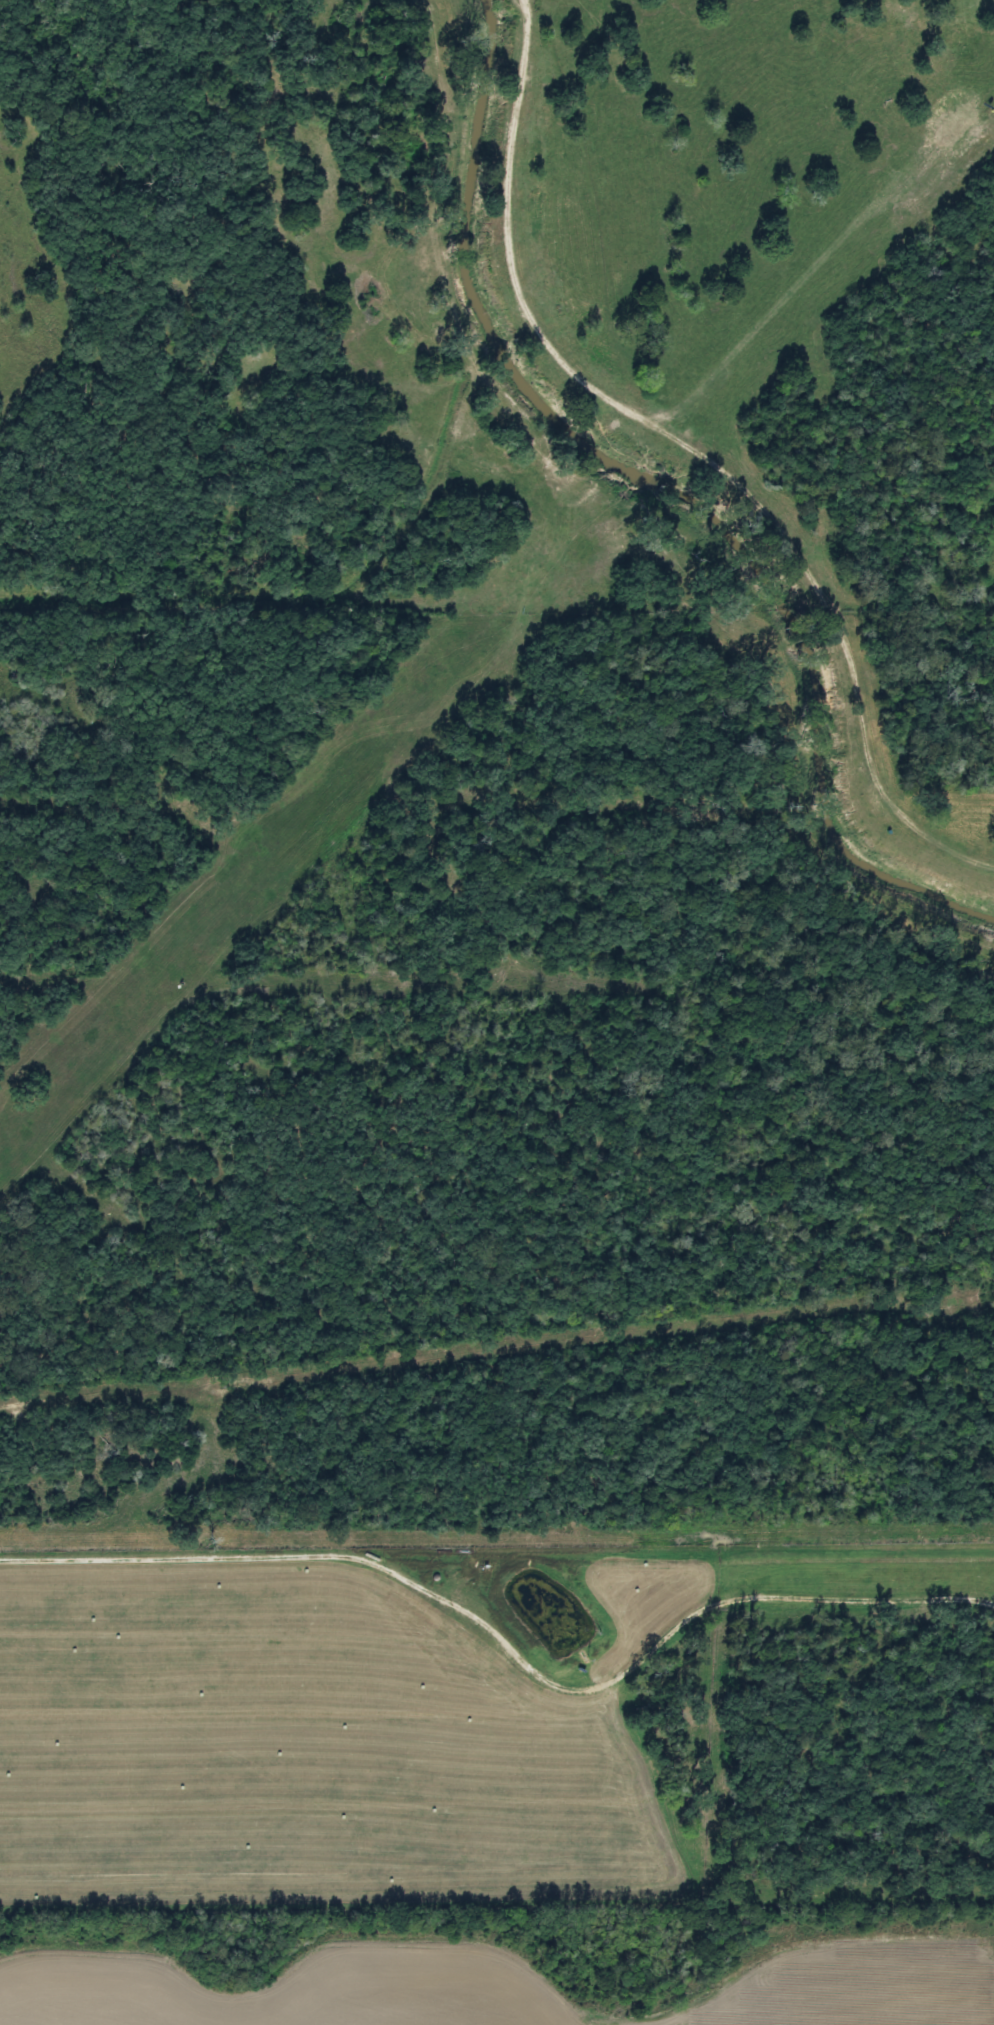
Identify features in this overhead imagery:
road: (554, 353)
road: (498, 1650)

